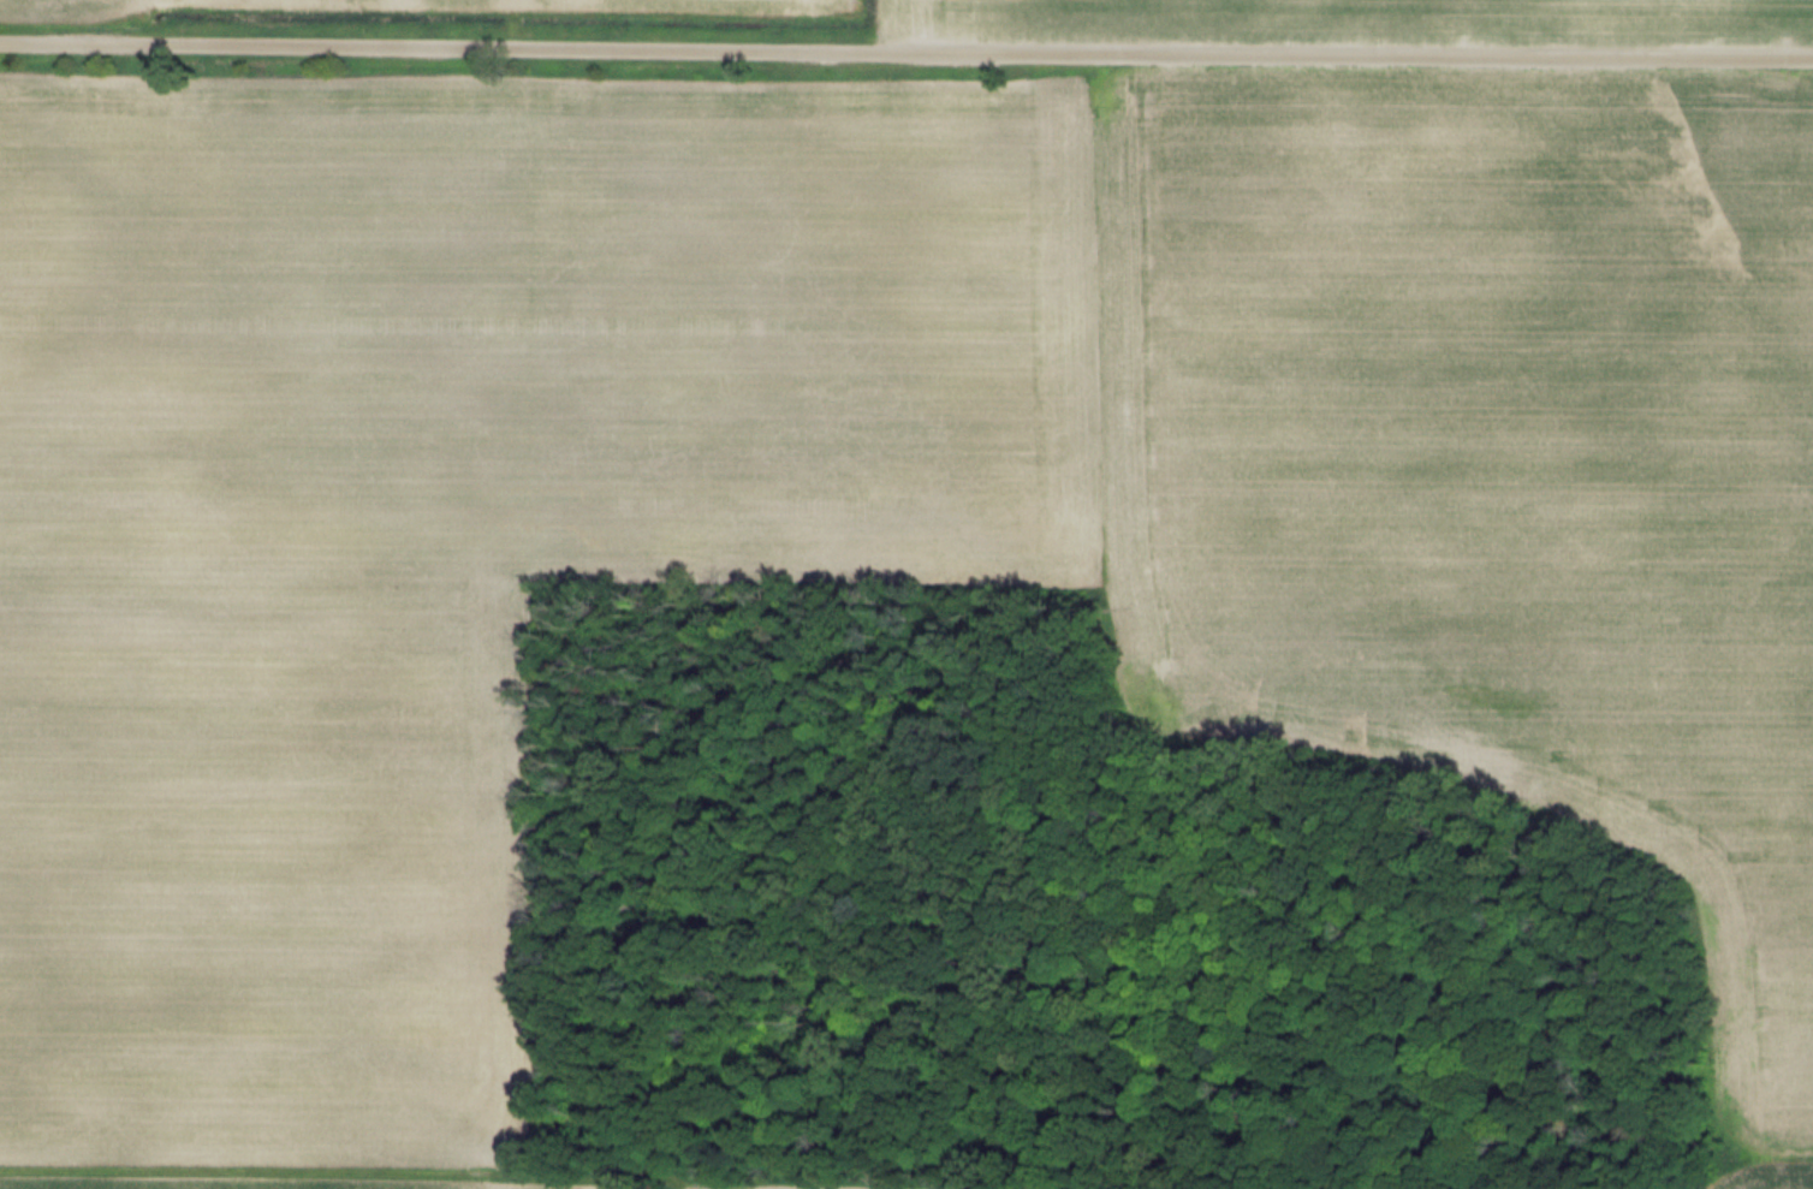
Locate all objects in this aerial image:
road: (906, 53)

